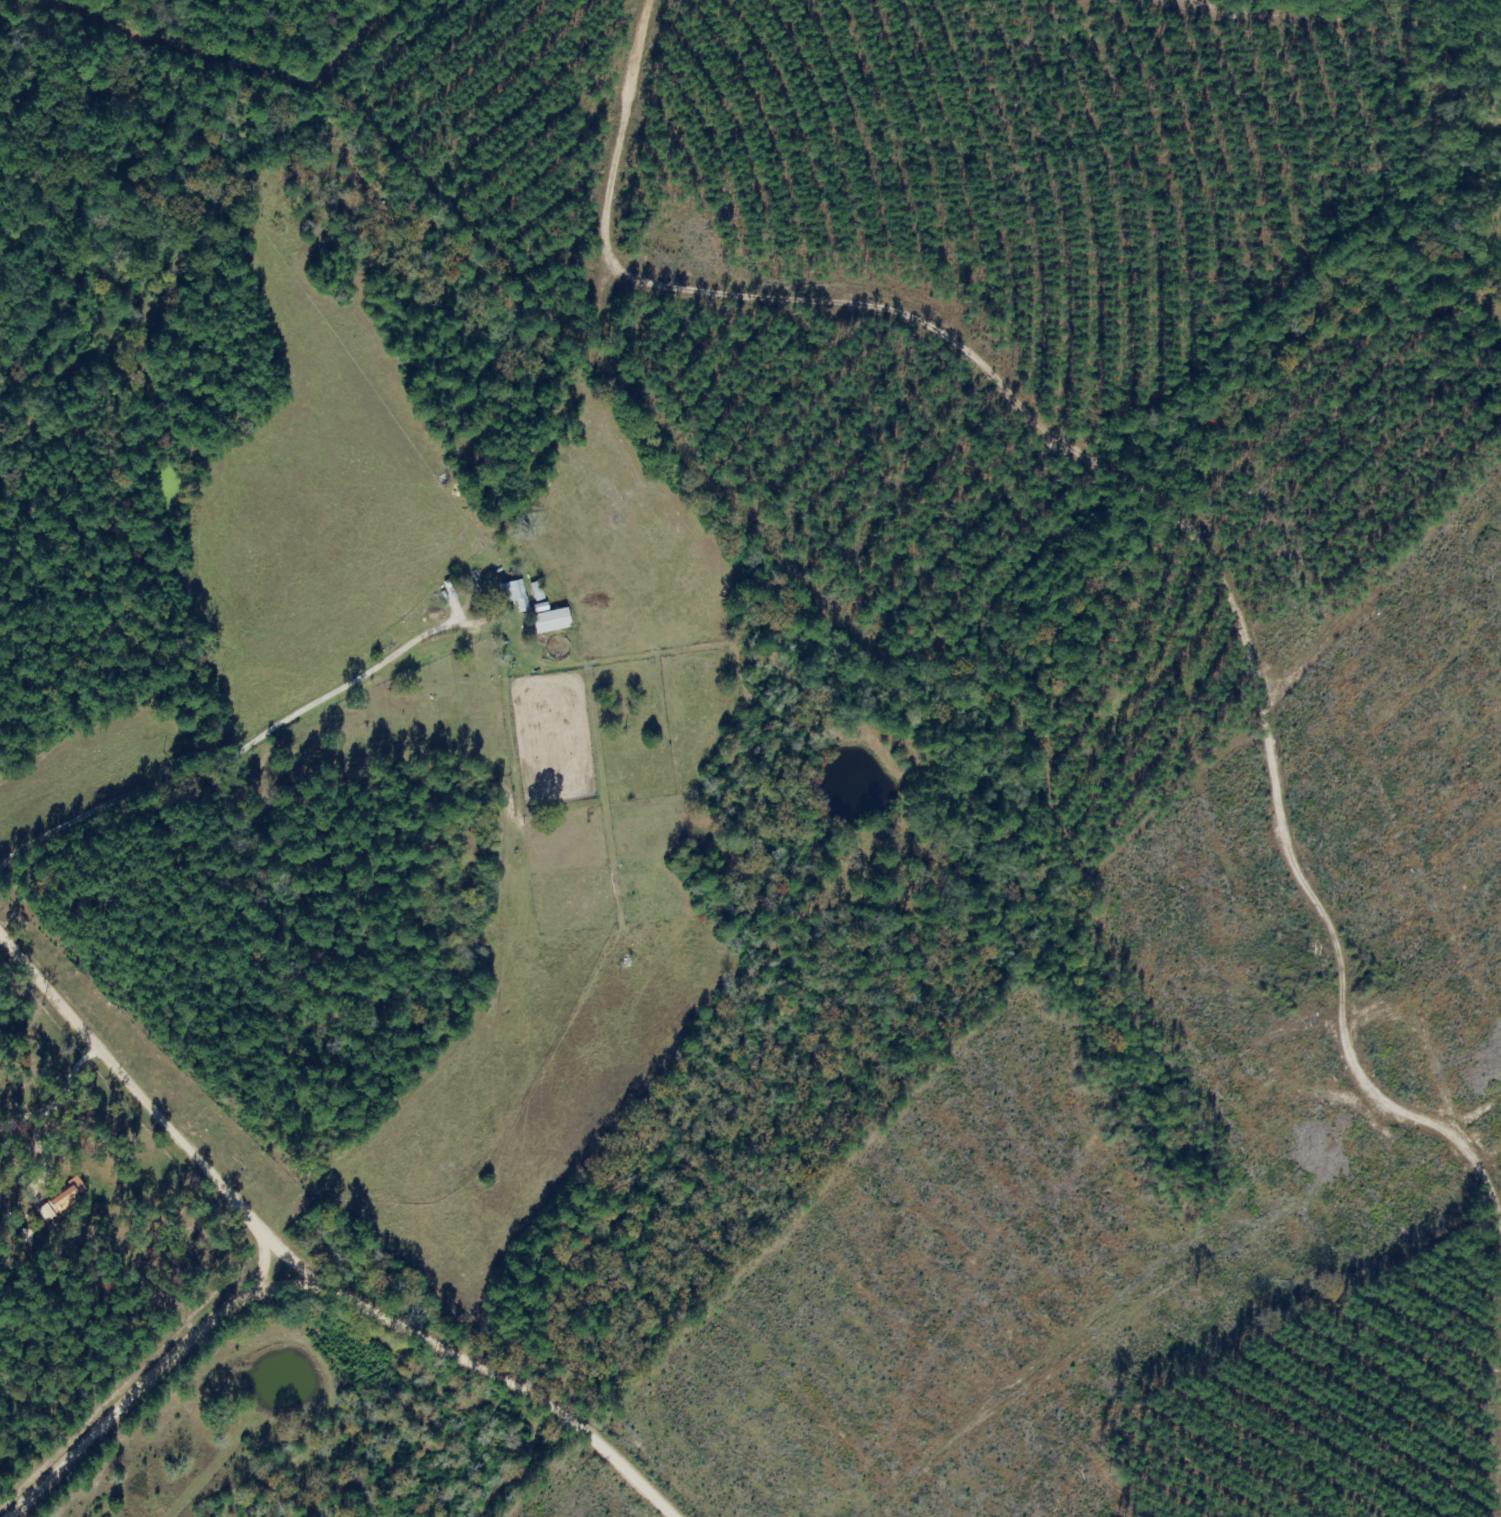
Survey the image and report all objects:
road: (753, 310)
building: (516, 594)
road: (196, 613)
building: (550, 621)
road: (118, 1080)
building: (75, 1196)
road: (253, 1255)
road: (239, 1268)
road: (494, 1360)
road: (136, 1395)

